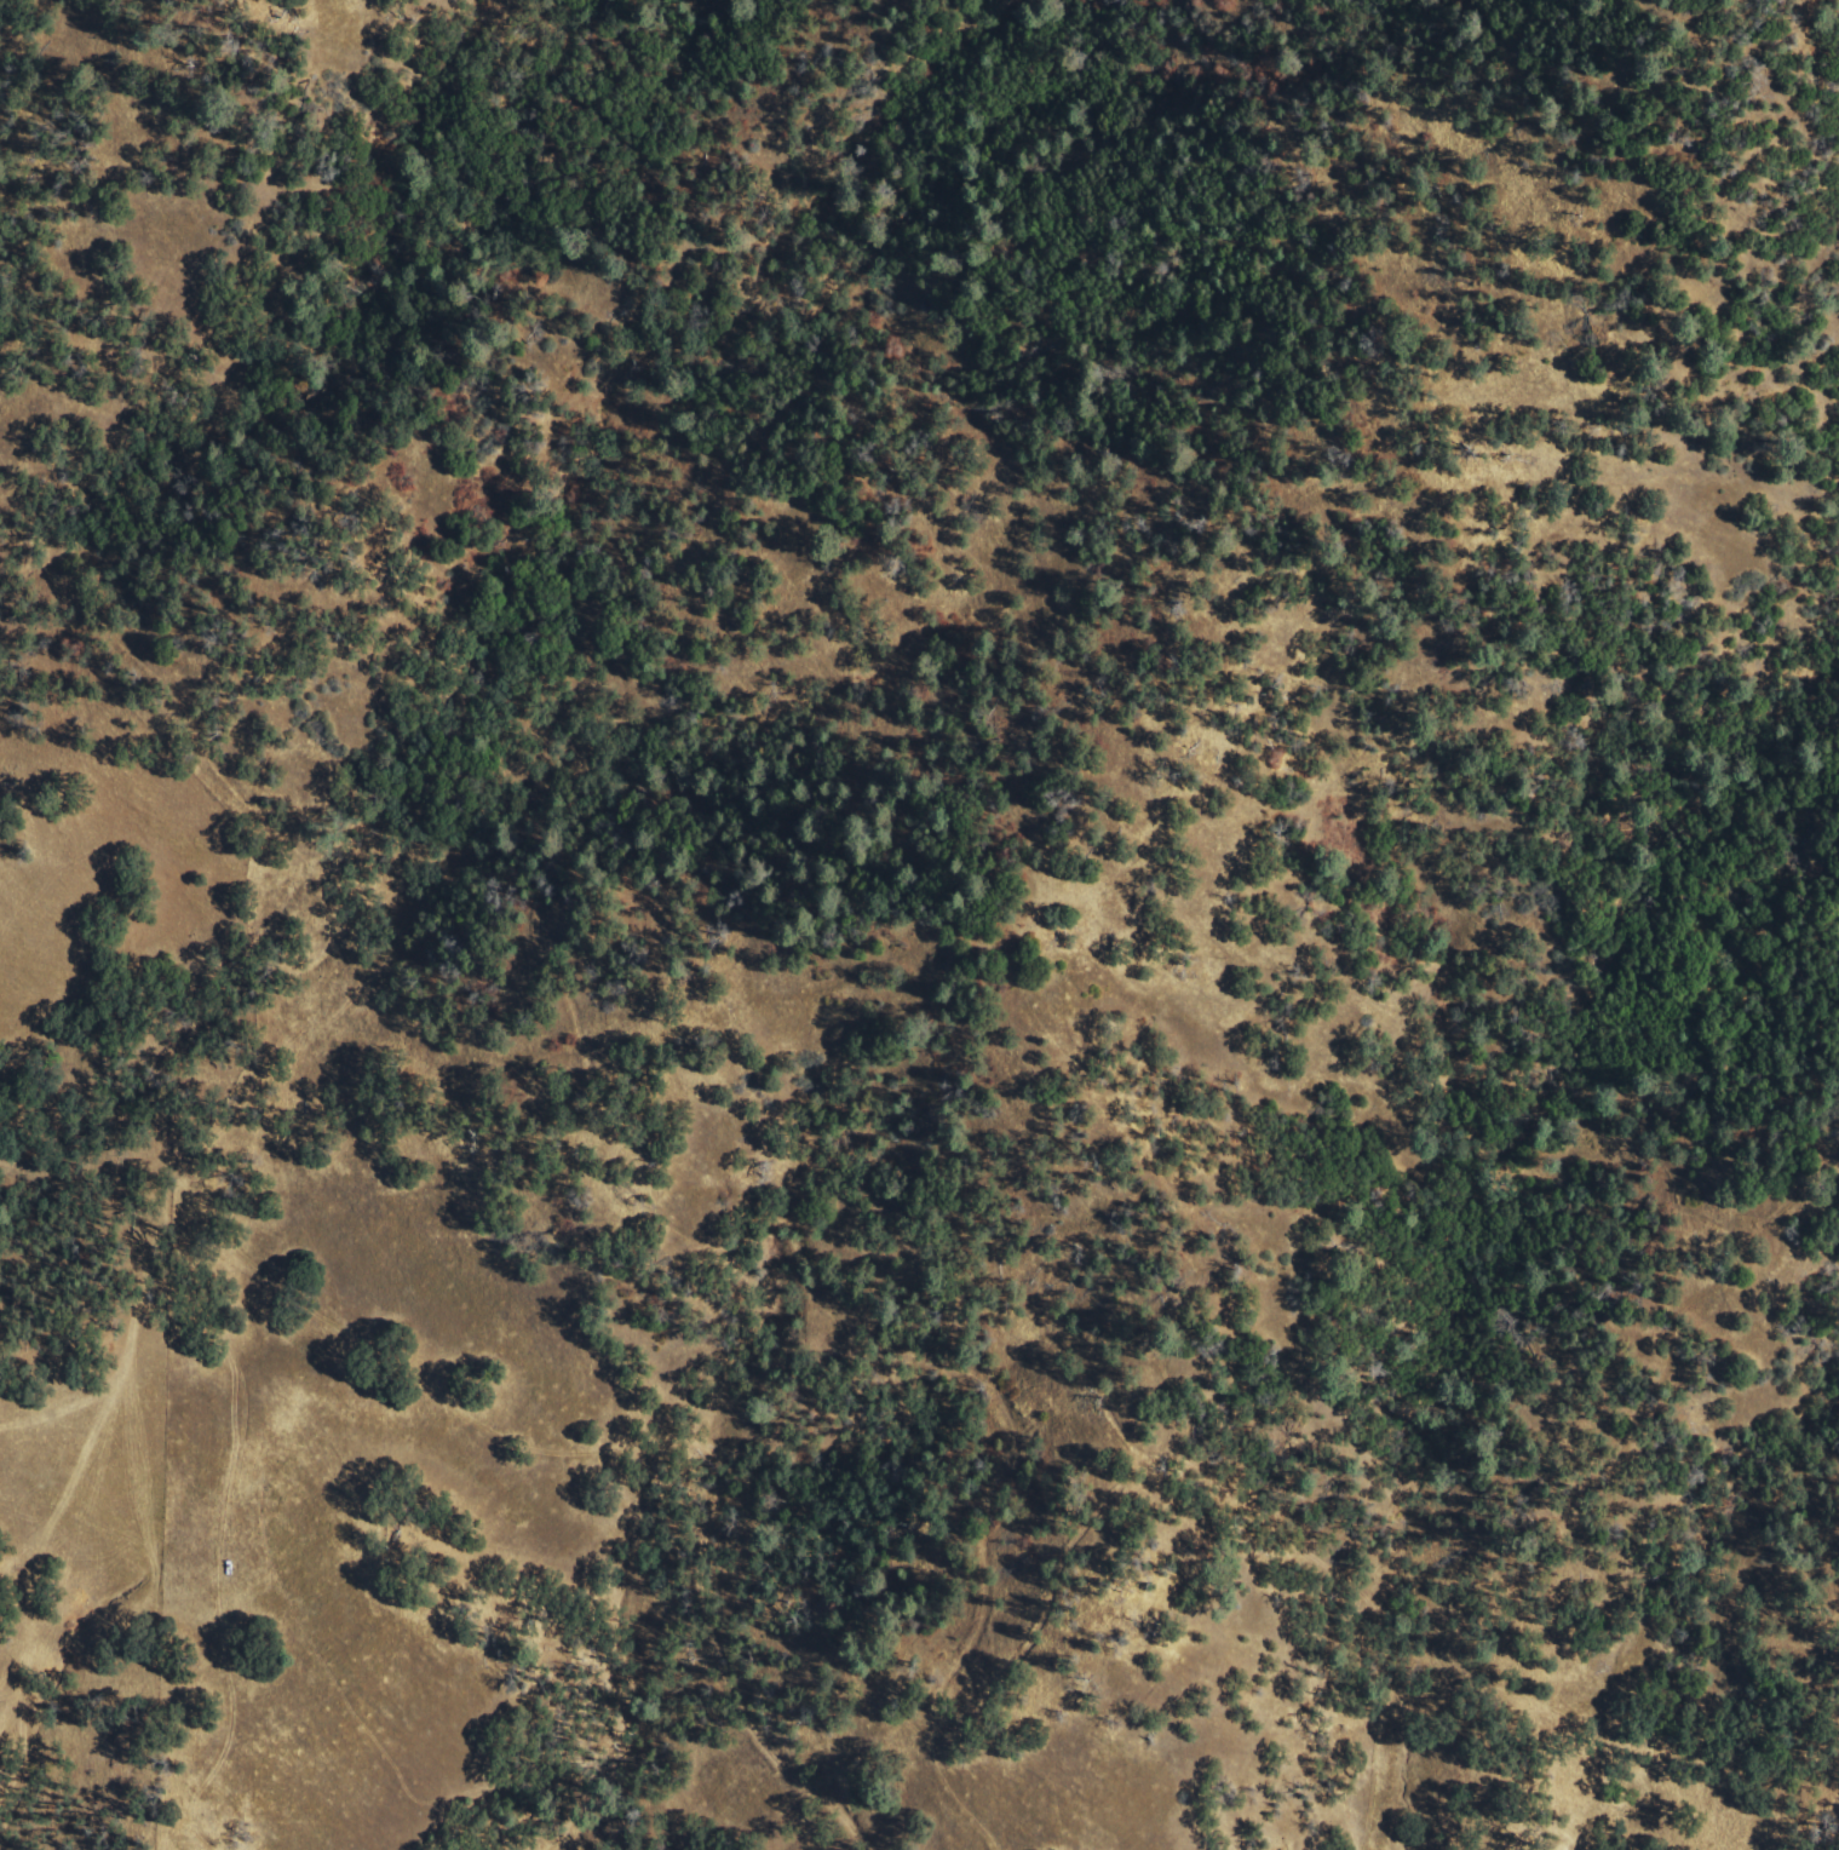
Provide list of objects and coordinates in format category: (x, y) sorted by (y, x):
road: (611, 1492)
road: (1407, 1708)

